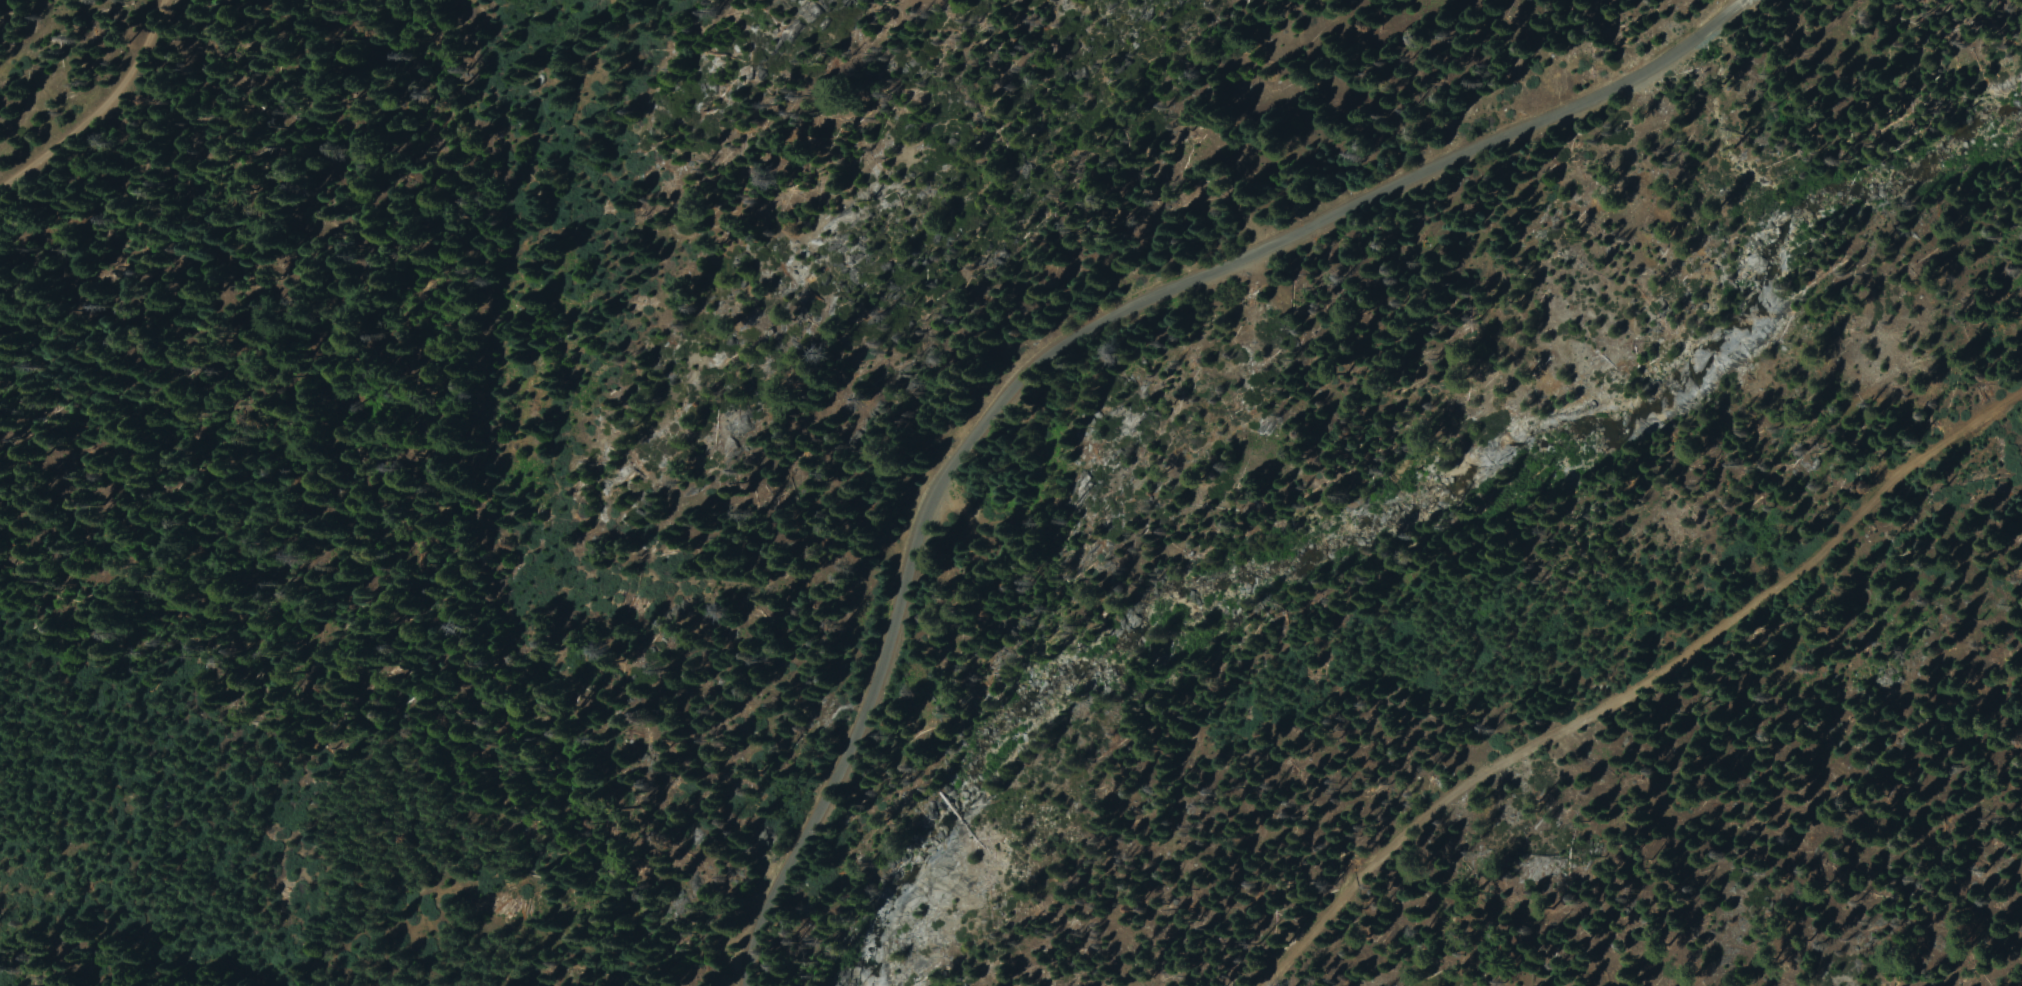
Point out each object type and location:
road: (103, 108)
road: (1073, 335)
road: (1637, 675)

